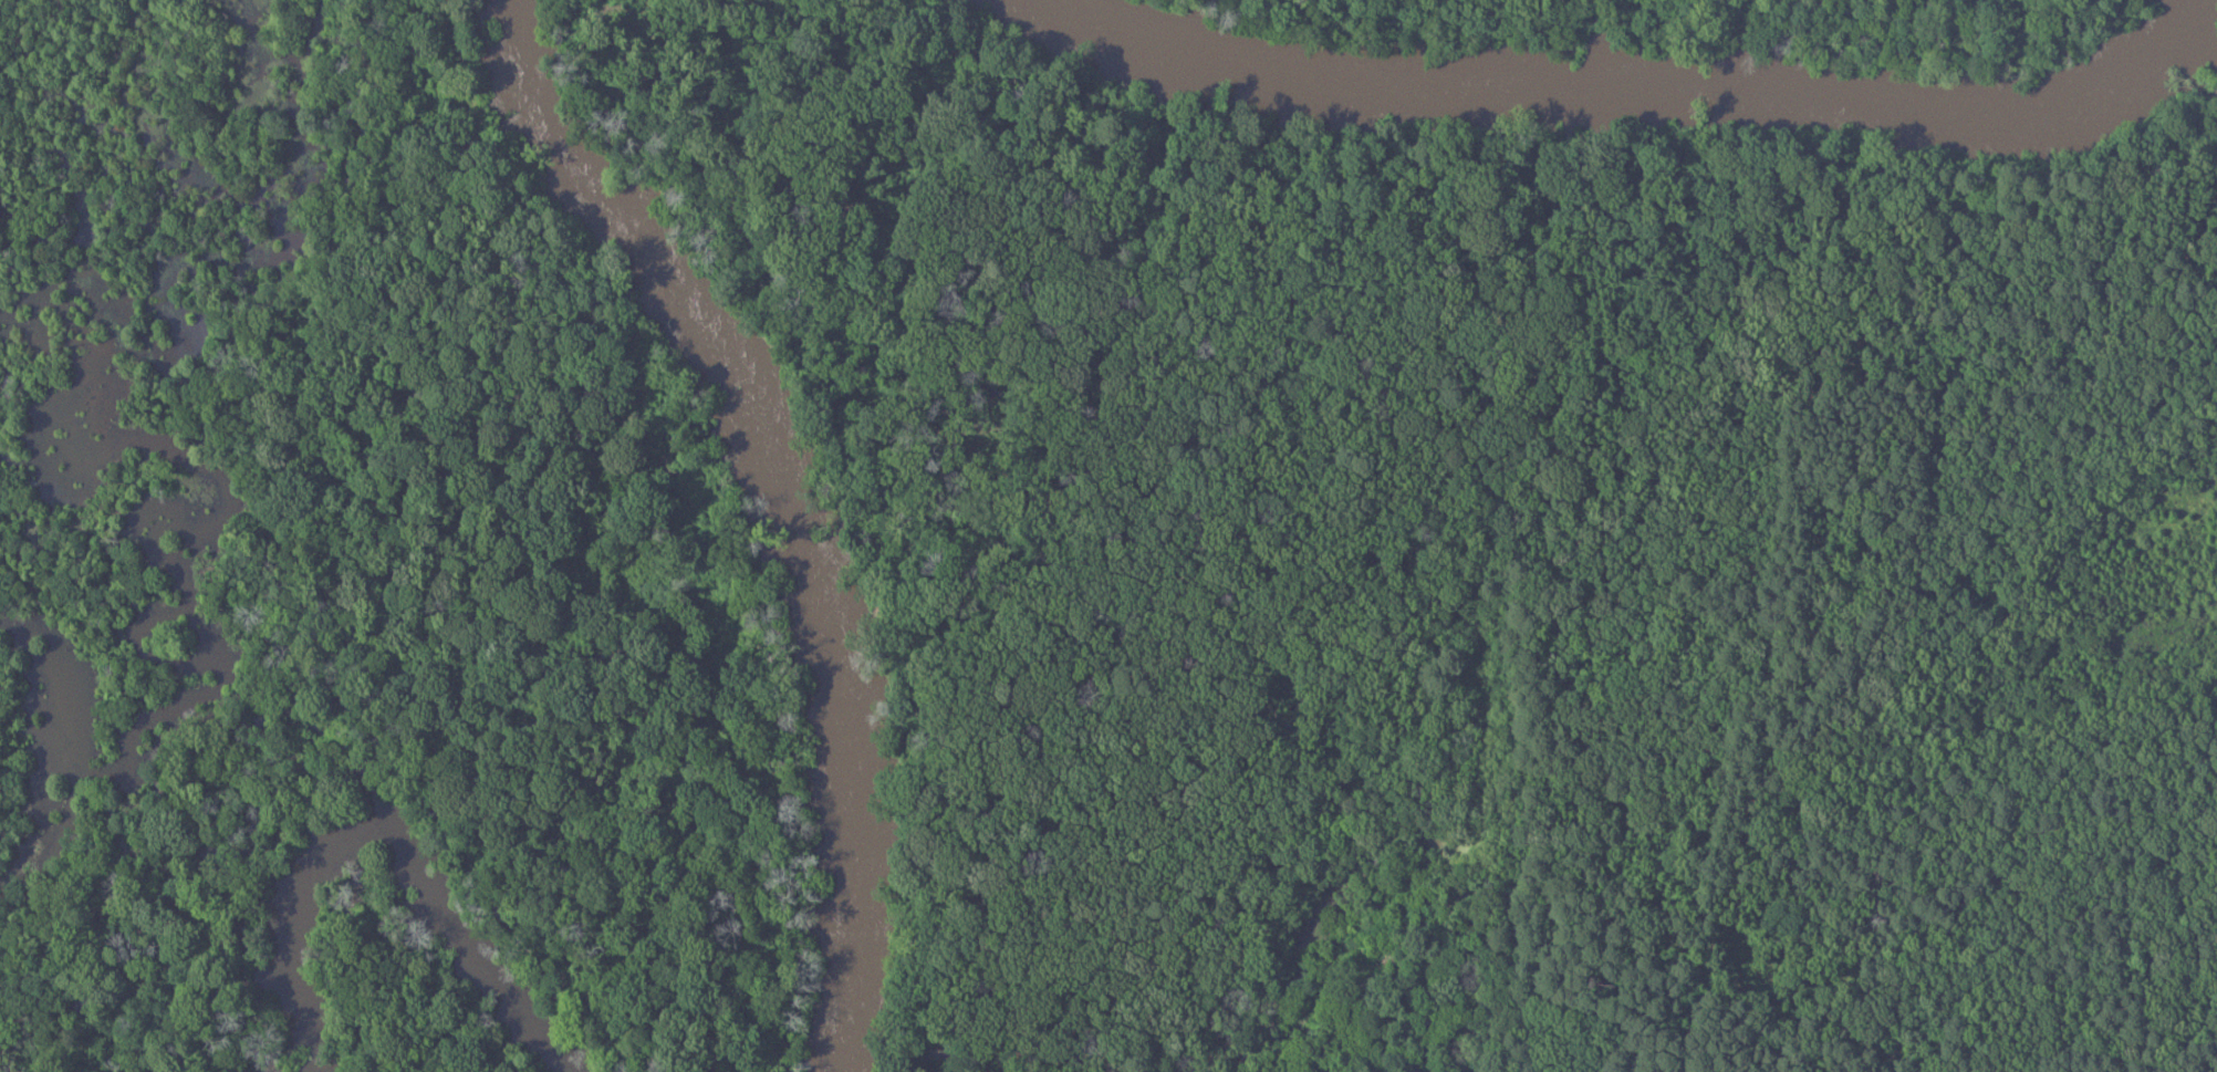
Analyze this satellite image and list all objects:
river: (1680, 79)
river: (802, 506)

